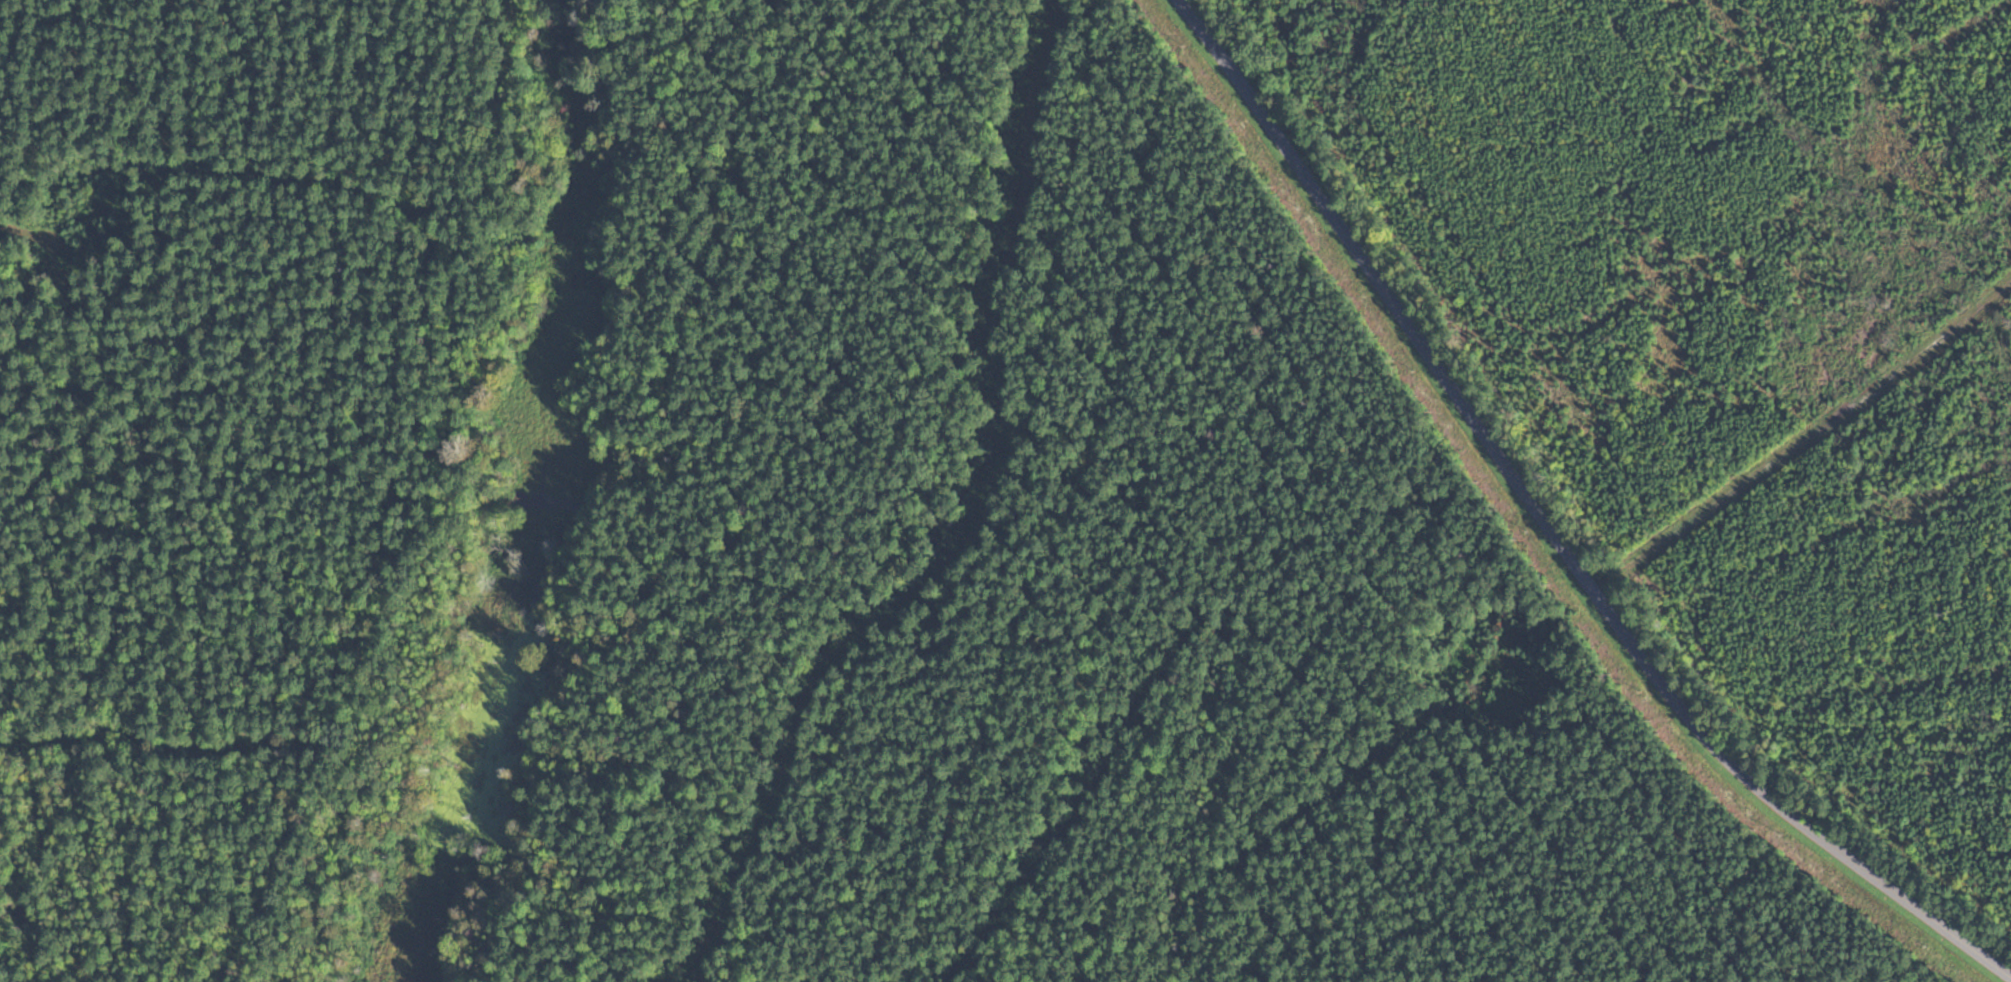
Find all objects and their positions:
park: (1222, 513)
road: (1549, 530)

